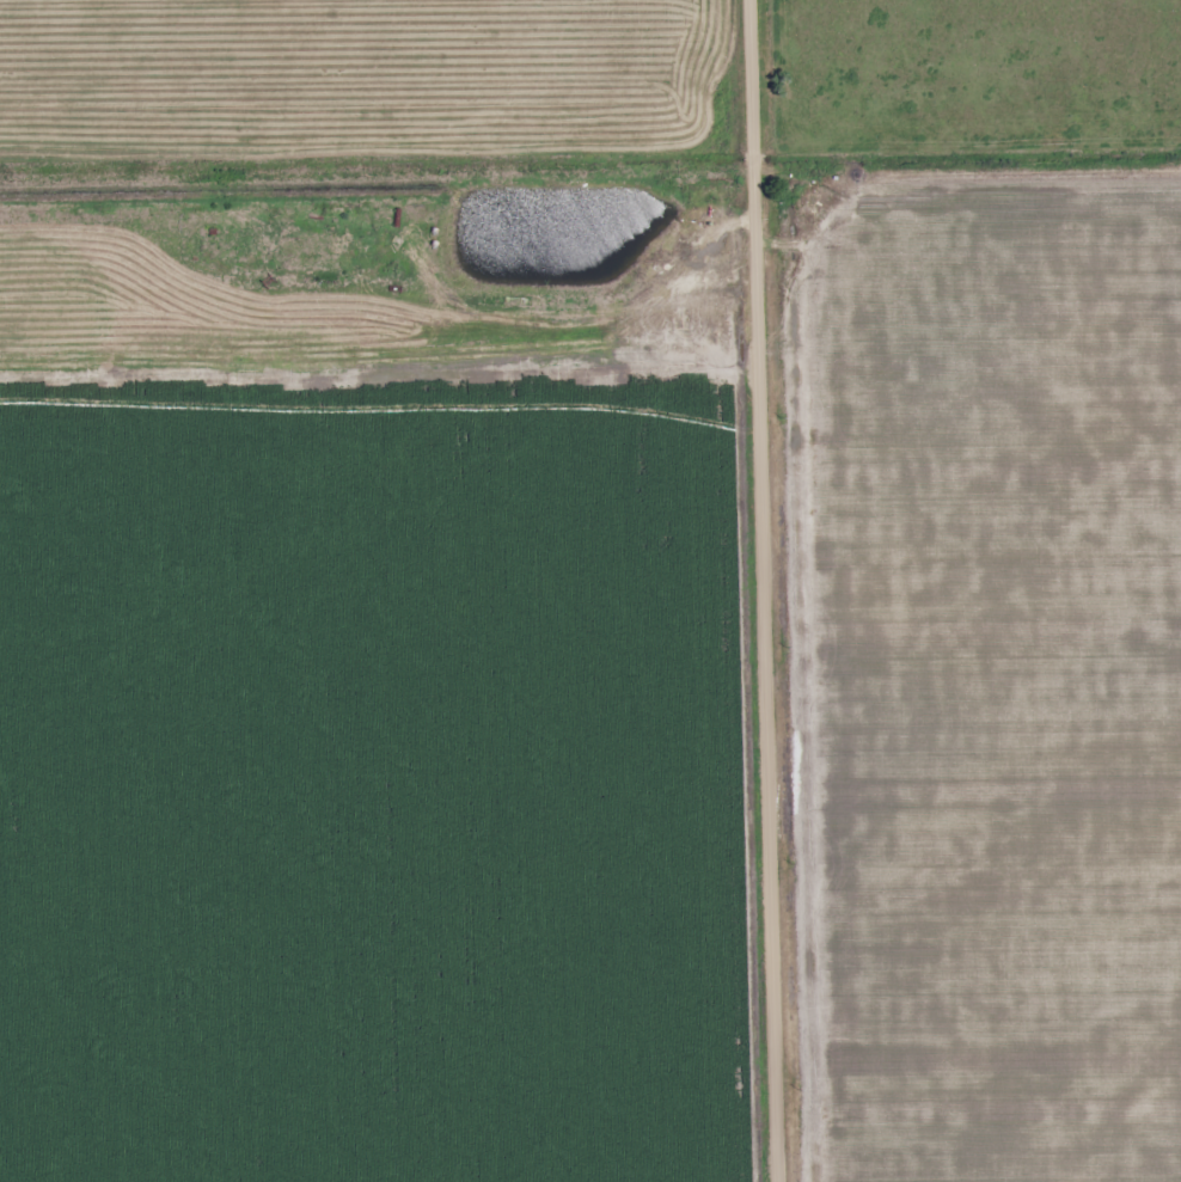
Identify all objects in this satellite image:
building: (674, 326)
road: (767, 590)

